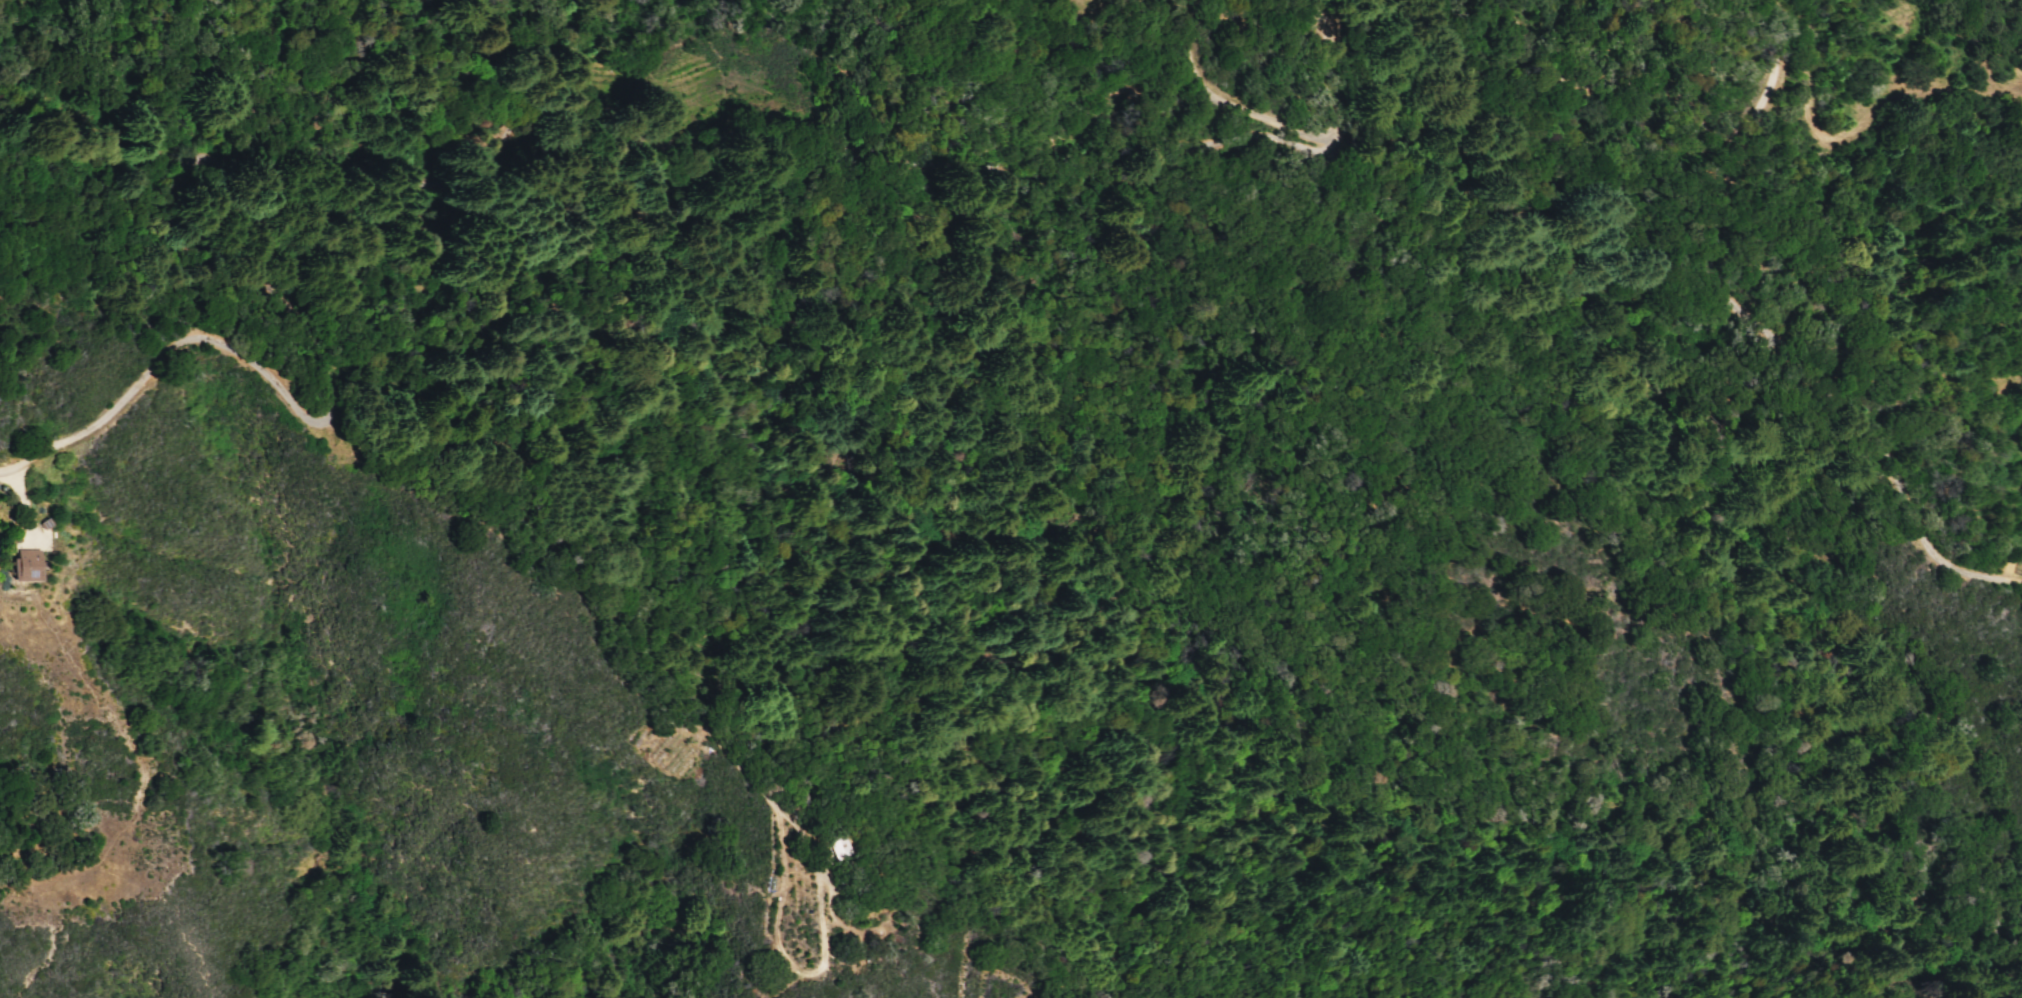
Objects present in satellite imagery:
road: (1763, 90)
road: (1856, 122)
road: (1289, 133)
road: (549, 159)
road: (310, 256)
road: (1733, 308)
road: (327, 436)
road: (25, 504)
building: (24, 565)
road: (141, 771)
building: (843, 846)
storage tank: (843, 846)
road: (779, 907)
road: (822, 917)

